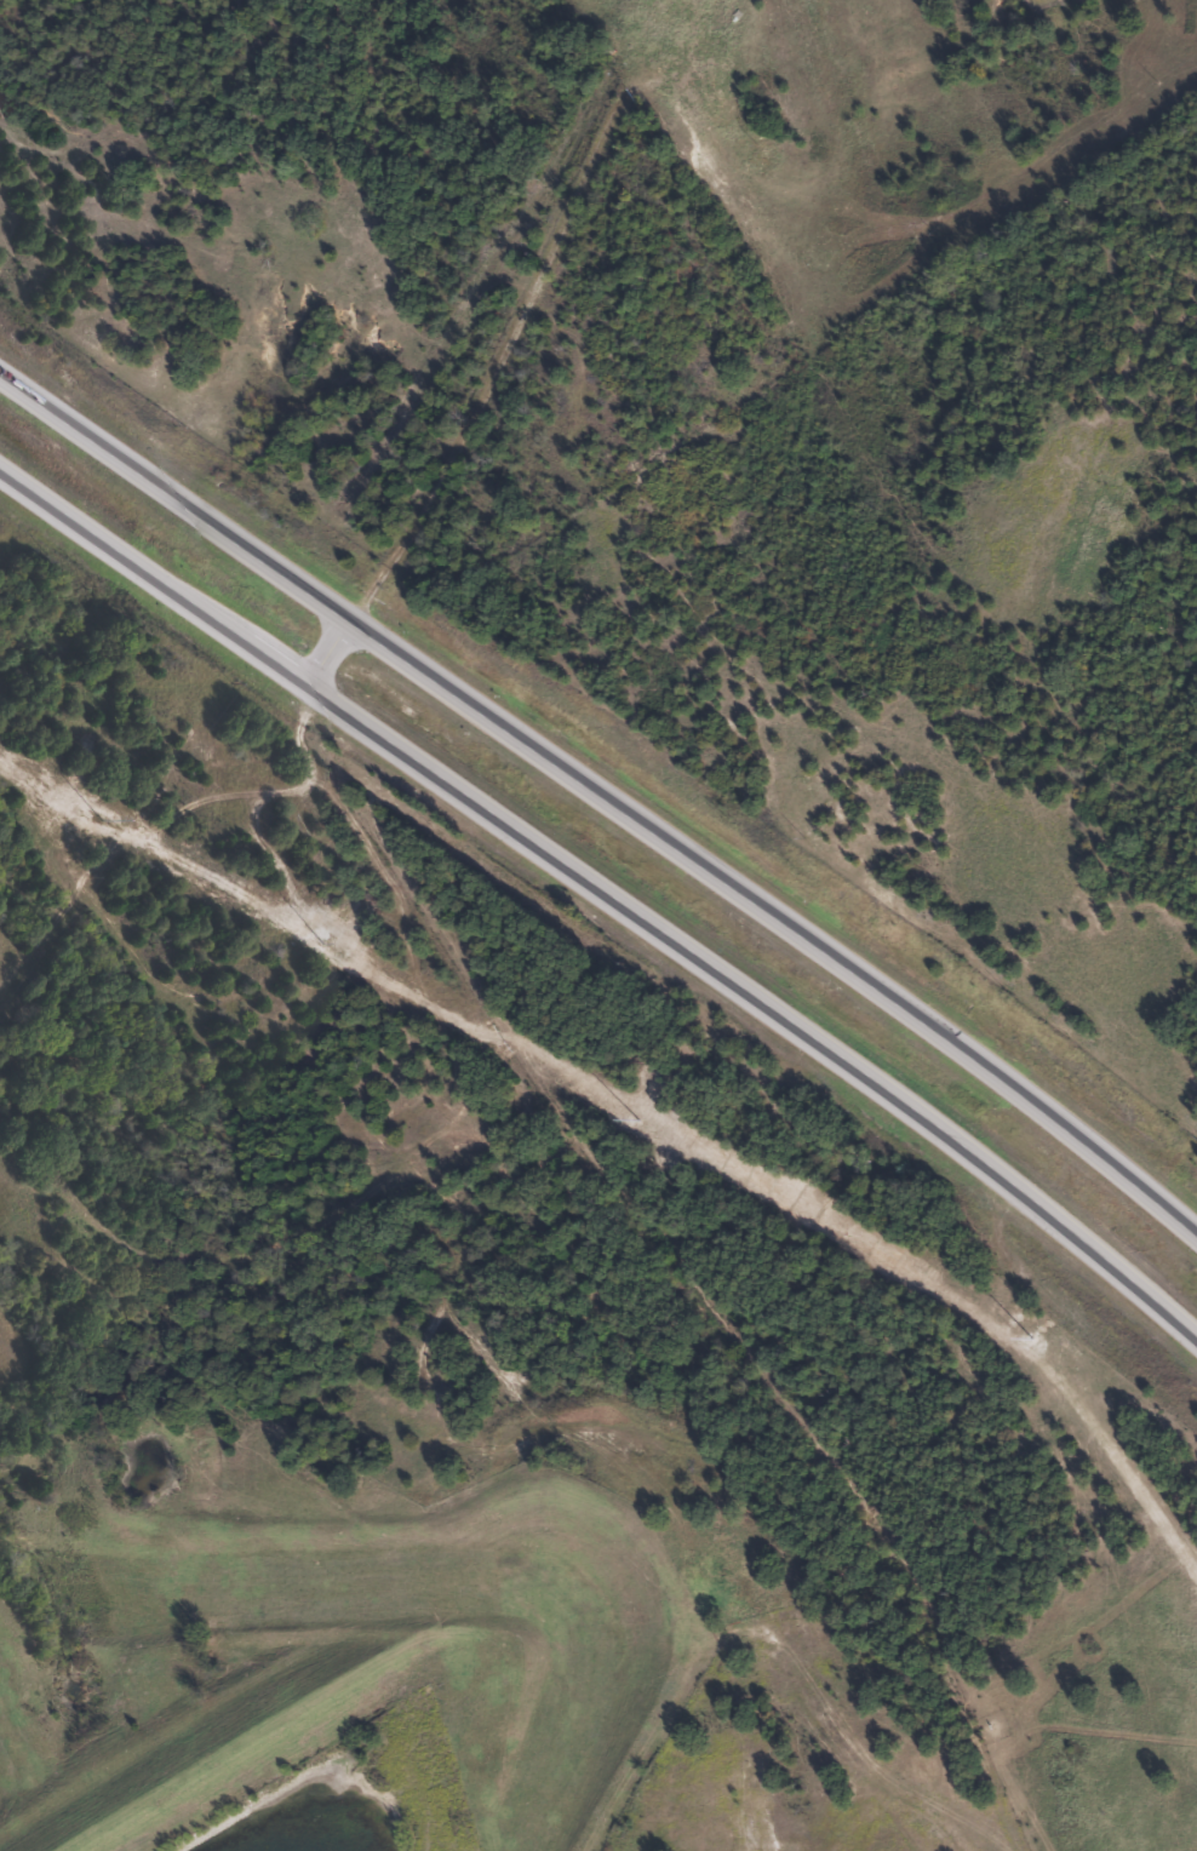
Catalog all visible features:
building: (680, 25)
building: (715, 101)
building: (741, 149)
building: (740, 210)
road: (498, 384)
road: (136, 565)
road: (331, 657)
road: (606, 795)
road: (732, 990)

